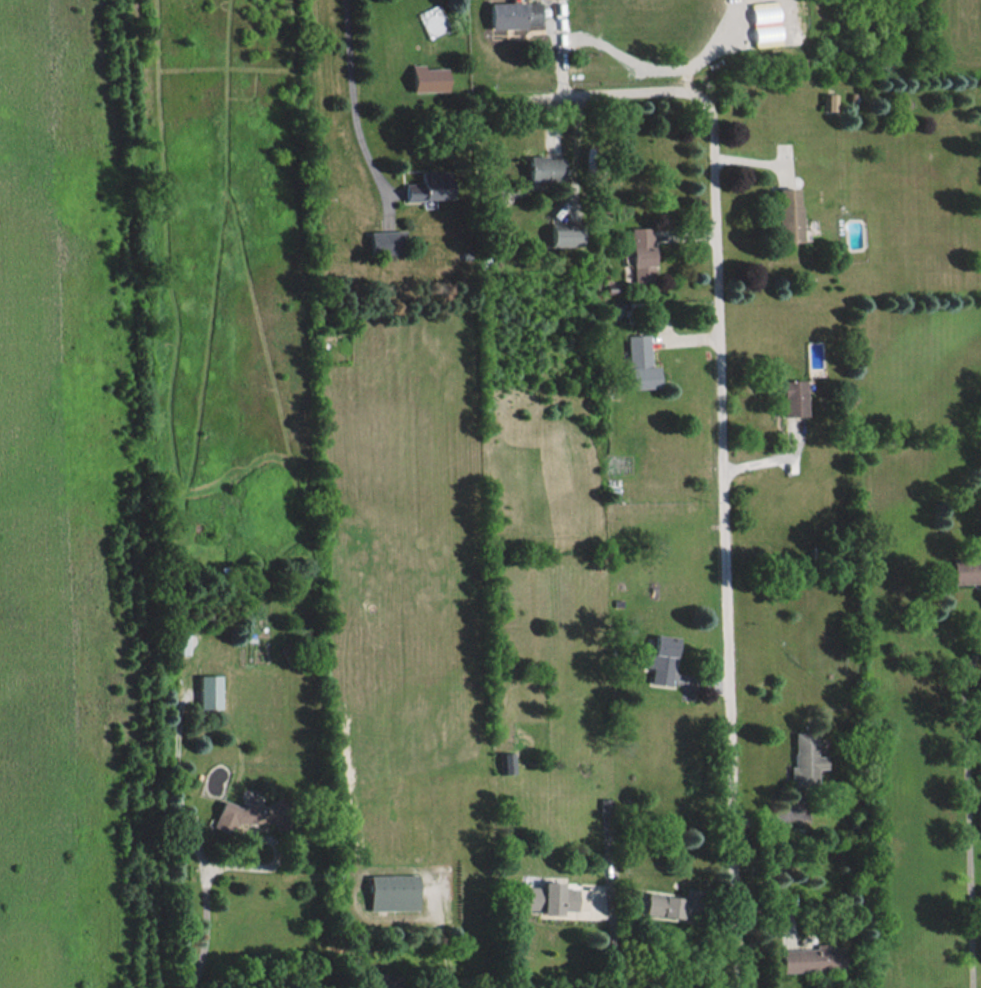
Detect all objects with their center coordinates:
building: (515, 14)
building: (765, 23)
building: (428, 78)
road: (351, 95)
building: (831, 101)
building: (544, 168)
building: (428, 185)
building: (787, 214)
building: (565, 235)
building: (386, 241)
building: (640, 254)
building: (639, 362)
building: (793, 397)
road: (720, 465)
building: (965, 570)
building: (179, 643)
building: (661, 659)
building: (209, 691)
building: (805, 759)
building: (507, 762)
road: (969, 809)
building: (244, 813)
building: (392, 891)
building: (550, 897)
road: (205, 903)
building: (665, 905)
building: (812, 958)
road: (630, 961)
road: (613, 967)

